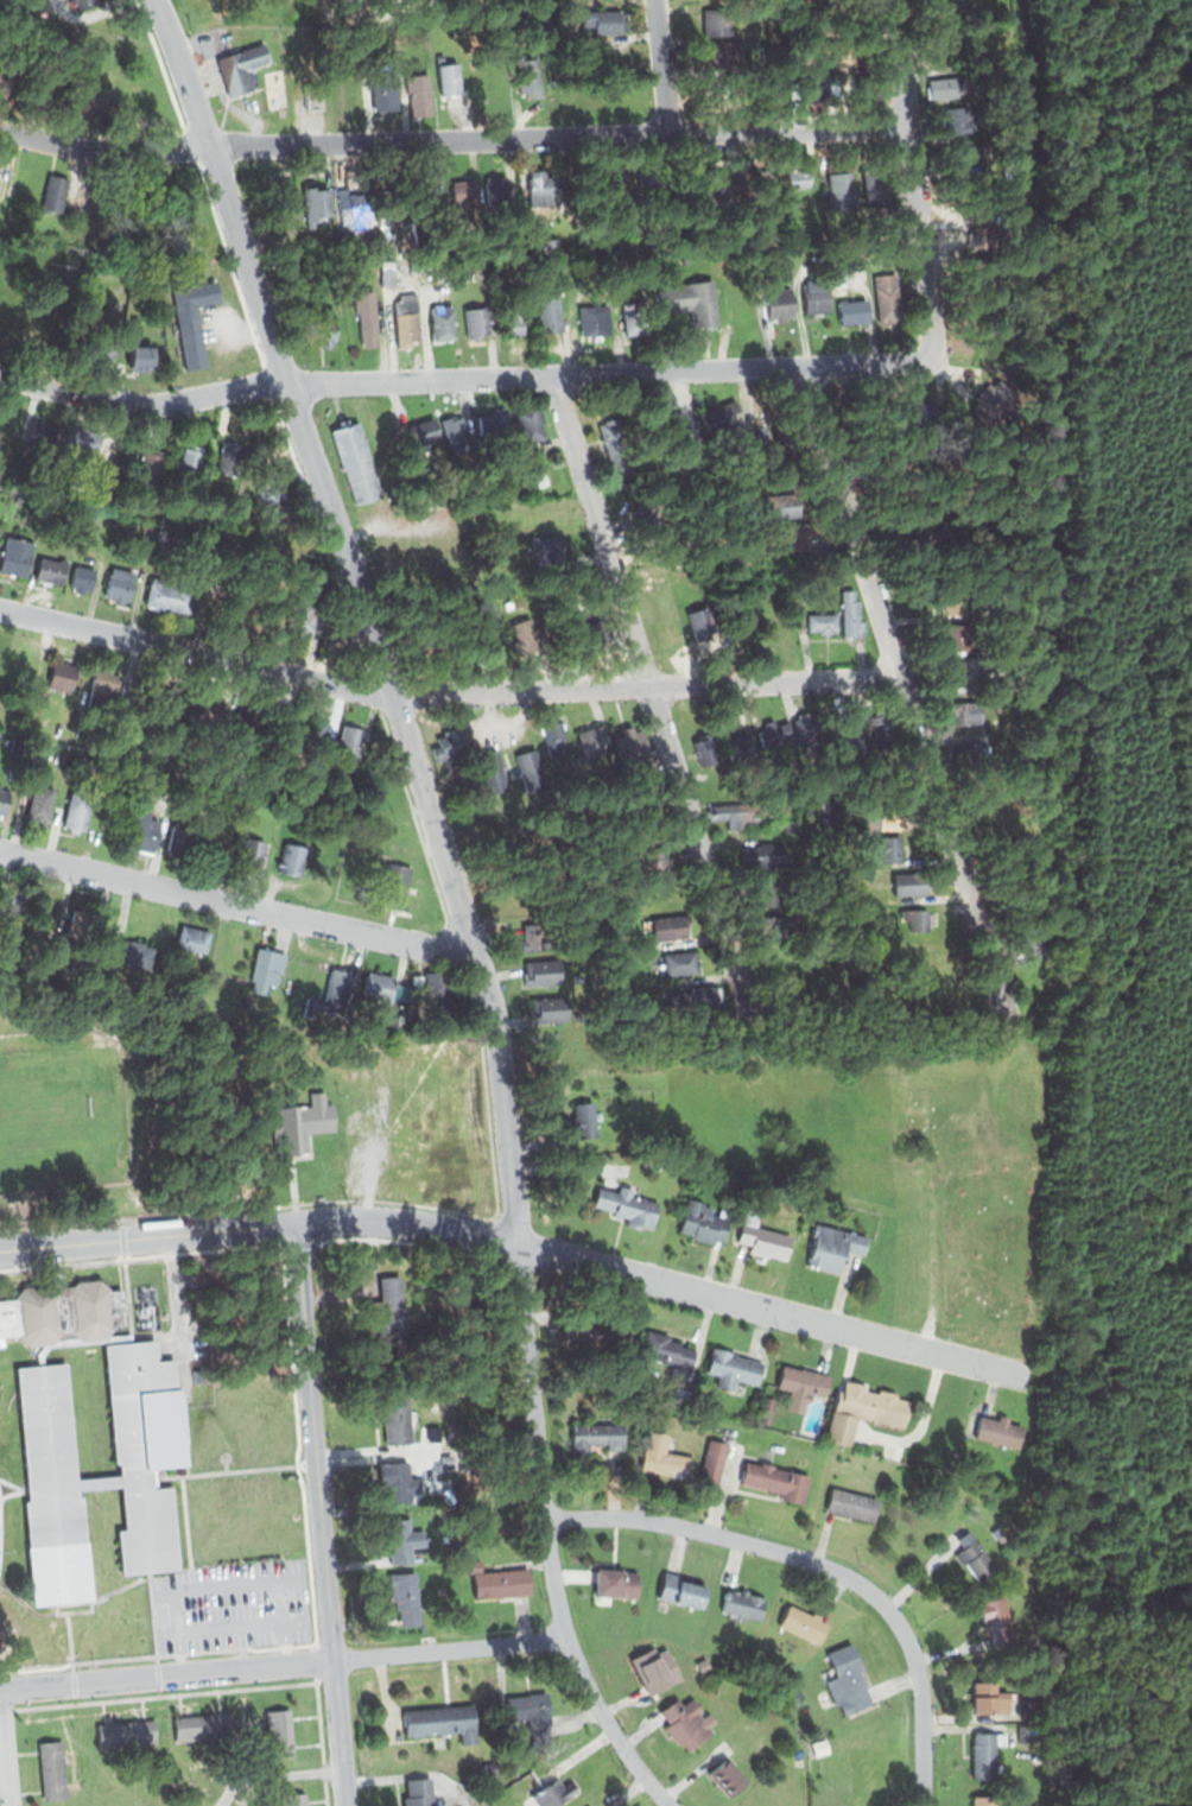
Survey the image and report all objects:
building: (37, 4)
building: (85, 4)
building: (604, 20)
building: (717, 21)
building: (729, 57)
building: (243, 64)
building: (530, 64)
road: (661, 65)
building: (450, 78)
building: (380, 89)
building: (313, 95)
building: (419, 95)
road: (451, 137)
building: (652, 177)
building: (763, 177)
building: (799, 178)
building: (617, 179)
building: (583, 185)
building: (877, 185)
building: (734, 188)
building: (545, 189)
building: (841, 190)
building: (501, 191)
building: (55, 194)
building: (467, 195)
building: (393, 197)
building: (429, 197)
building: (316, 204)
building: (356, 204)
building: (284, 209)
building: (189, 211)
road: (920, 242)
building: (549, 243)
building: (363, 249)
building: (442, 271)
building: (387, 272)
building: (816, 296)
building: (886, 298)
building: (691, 300)
building: (779, 304)
building: (852, 309)
building: (549, 310)
building: (190, 316)
building: (366, 316)
building: (635, 316)
building: (443, 321)
building: (477, 321)
building: (595, 321)
building: (401, 322)
building: (515, 323)
building: (322, 328)
building: (100, 351)
building: (140, 355)
road: (402, 379)
building: (721, 413)
building: (531, 420)
building: (494, 424)
building: (38, 430)
building: (388, 430)
building: (425, 430)
building: (457, 436)
building: (81, 437)
building: (617, 442)
building: (228, 456)
building: (356, 462)
building: (150, 465)
building: (188, 465)
building: (543, 477)
building: (524, 482)
building: (271, 495)
building: (89, 517)
building: (798, 520)
building: (936, 527)
building: (159, 533)
building: (547, 549)
building: (17, 551)
building: (50, 569)
building: (83, 577)
building: (120, 584)
building: (171, 594)
building: (520, 601)
building: (508, 603)
building: (952, 603)
building: (239, 611)
road: (366, 611)
building: (851, 613)
building: (299, 617)
building: (482, 619)
building: (824, 621)
building: (702, 623)
building: (591, 632)
building: (944, 633)
building: (531, 635)
building: (429, 645)
building: (952, 671)
building: (62, 676)
road: (647, 677)
building: (103, 690)
road: (444, 692)
road: (903, 695)
building: (997, 705)
building: (210, 710)
building: (965, 711)
building: (251, 721)
building: (882, 725)
building: (811, 727)
building: (283, 731)
building: (775, 734)
building: (848, 734)
building: (315, 735)
building: (594, 739)
building: (557, 741)
building: (350, 742)
building: (632, 743)
building: (740, 746)
building: (449, 747)
building: (705, 750)
building: (970, 752)
building: (531, 769)
building: (494, 771)
building: (4, 793)
building: (40, 803)
building: (77, 812)
building: (738, 815)
building: (879, 816)
building: (830, 822)
building: (788, 824)
building: (500, 829)
building: (147, 832)
building: (189, 842)
building: (889, 849)
building: (251, 851)
building: (763, 855)
building: (645, 856)
building: (292, 860)
building: (908, 882)
building: (394, 886)
building: (766, 891)
building: (18, 900)
road: (237, 904)
building: (919, 919)
building: (87, 925)
building: (874, 925)
building: (672, 927)
building: (775, 930)
building: (1034, 930)
building: (533, 937)
building: (192, 938)
building: (132, 953)
building: (683, 962)
building: (265, 968)
building: (541, 971)
building: (570, 975)
building: (293, 986)
building: (378, 987)
building: (438, 993)
building: (331, 995)
building: (703, 999)
building: (246, 1000)
building: (554, 1008)
park: (62, 1117)
building: (298, 1121)
building: (582, 1122)
building: (12, 1200)
building: (627, 1206)
building: (703, 1219)
road: (61, 1223)
road: (259, 1224)
road: (123, 1235)
building: (761, 1238)
building: (991, 1247)
building: (832, 1248)
building: (386, 1308)
road: (772, 1308)
building: (62, 1311)
building: (589, 1336)
building: (76, 1343)
building: (666, 1350)
building: (731, 1369)
building: (803, 1384)
building: (766, 1409)
building: (863, 1409)
building: (398, 1415)
building: (1000, 1431)
building: (595, 1437)
road: (315, 1439)
building: (146, 1451)
building: (659, 1458)
building: (711, 1465)
building: (776, 1481)
building: (99, 1482)
building: (394, 1482)
building: (52, 1488)
building: (852, 1504)
road: (547, 1539)
building: (402, 1540)
building: (977, 1559)
road: (823, 1565)
building: (499, 1582)
building: (617, 1583)
road: (214, 1585)
building: (681, 1590)
building: (407, 1596)
building: (743, 1604)
building: (997, 1616)
building: (801, 1623)
road: (232, 1628)
road: (286, 1642)
road: (450, 1647)
road: (180, 1652)
building: (703, 1665)
building: (655, 1668)
road: (167, 1673)
building: (848, 1680)
building: (993, 1699)
building: (532, 1713)
building: (440, 1721)
building: (685, 1723)
building: (203, 1728)
road: (340, 1731)
building: (126, 1732)
building: (279, 1734)
road: (5, 1747)
building: (988, 1750)
building: (798, 1755)
building: (52, 1769)
road: (275, 1775)
building: (727, 1776)
building: (419, 1792)
building: (553, 1793)
building: (294, 1799)
building: (984, 1800)

